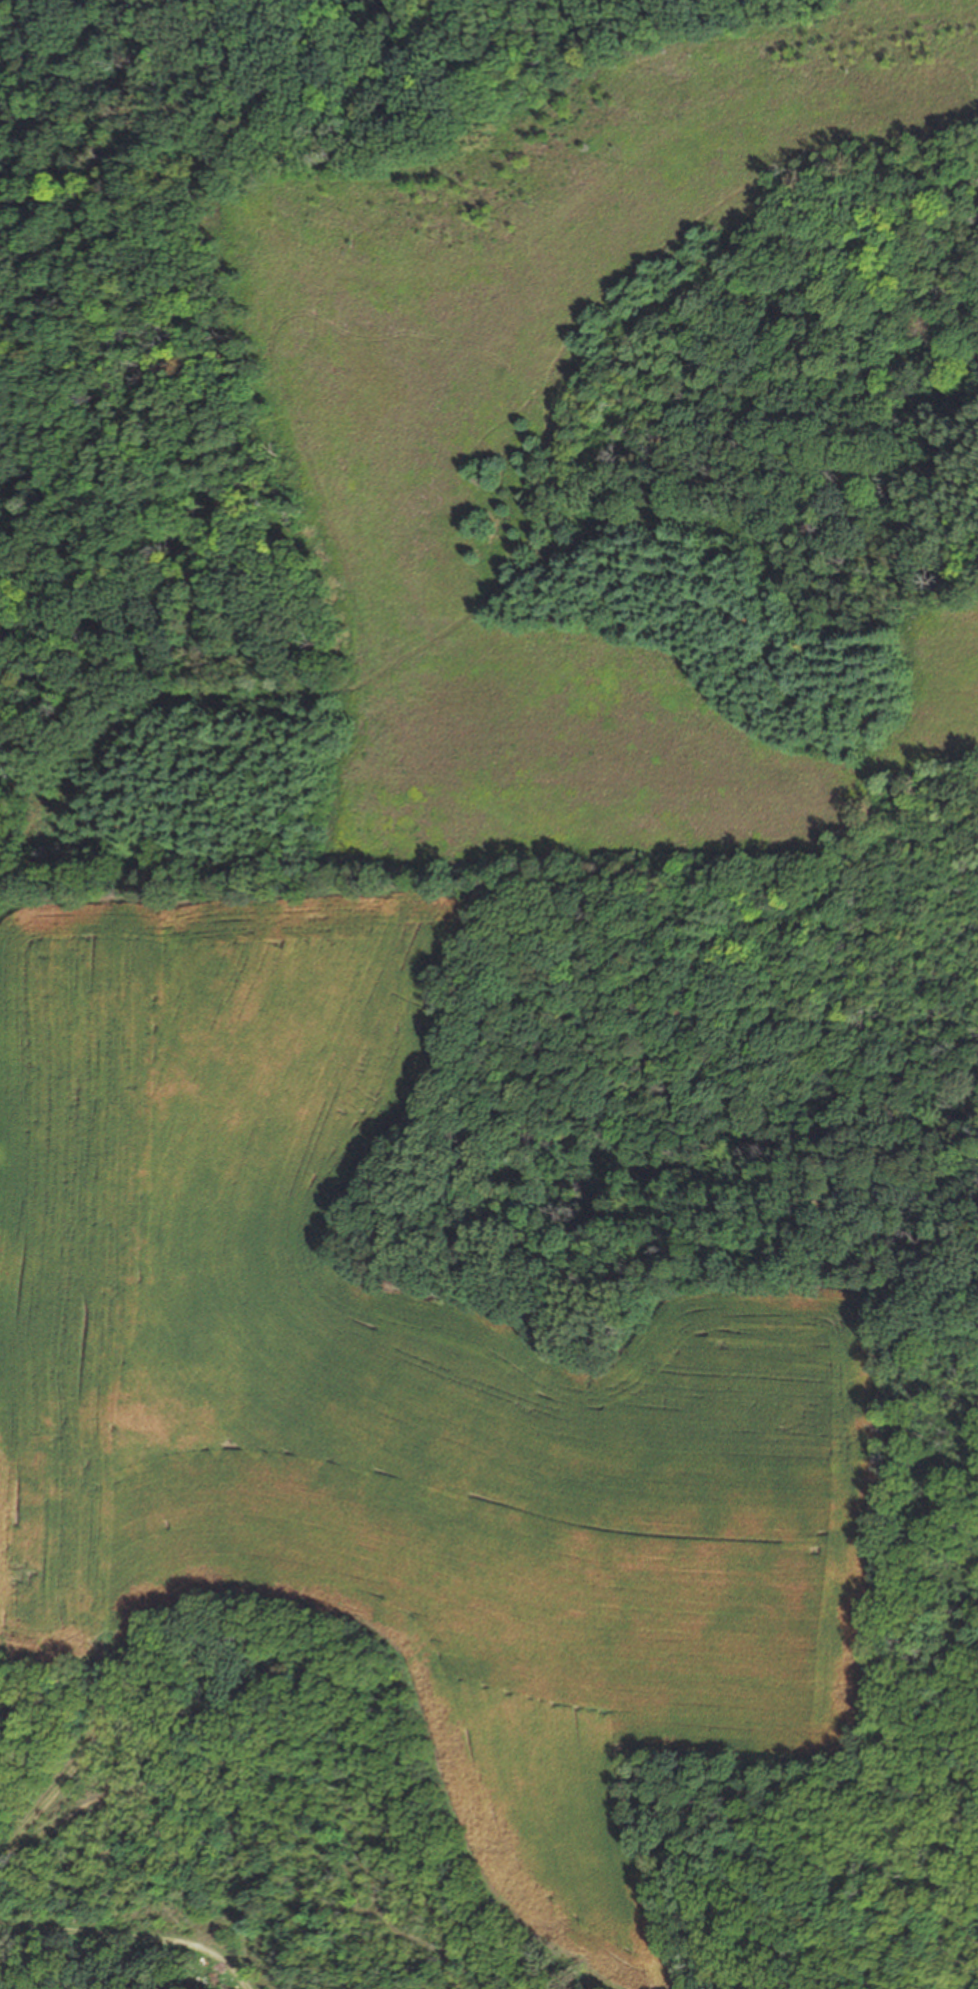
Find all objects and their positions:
road: (71, 1775)
building: (243, 1925)
road: (131, 1938)

